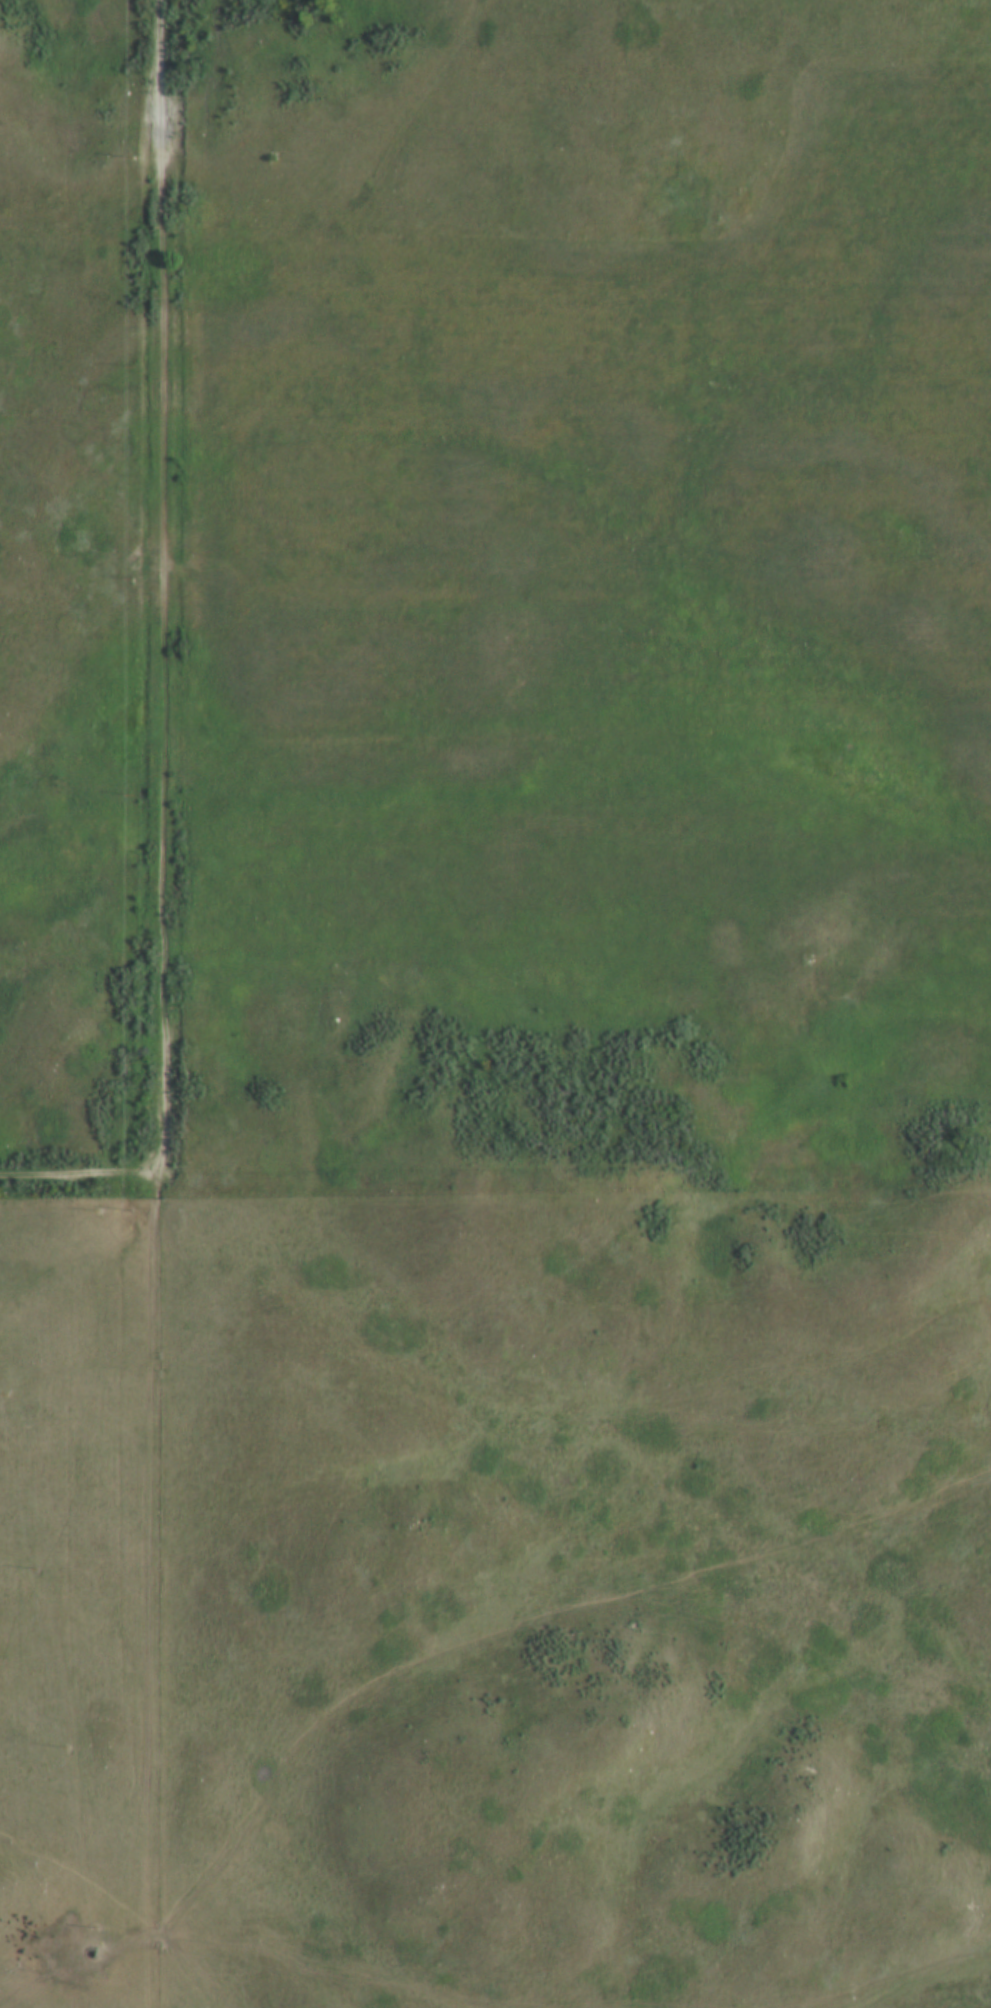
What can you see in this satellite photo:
road: (163, 663)

